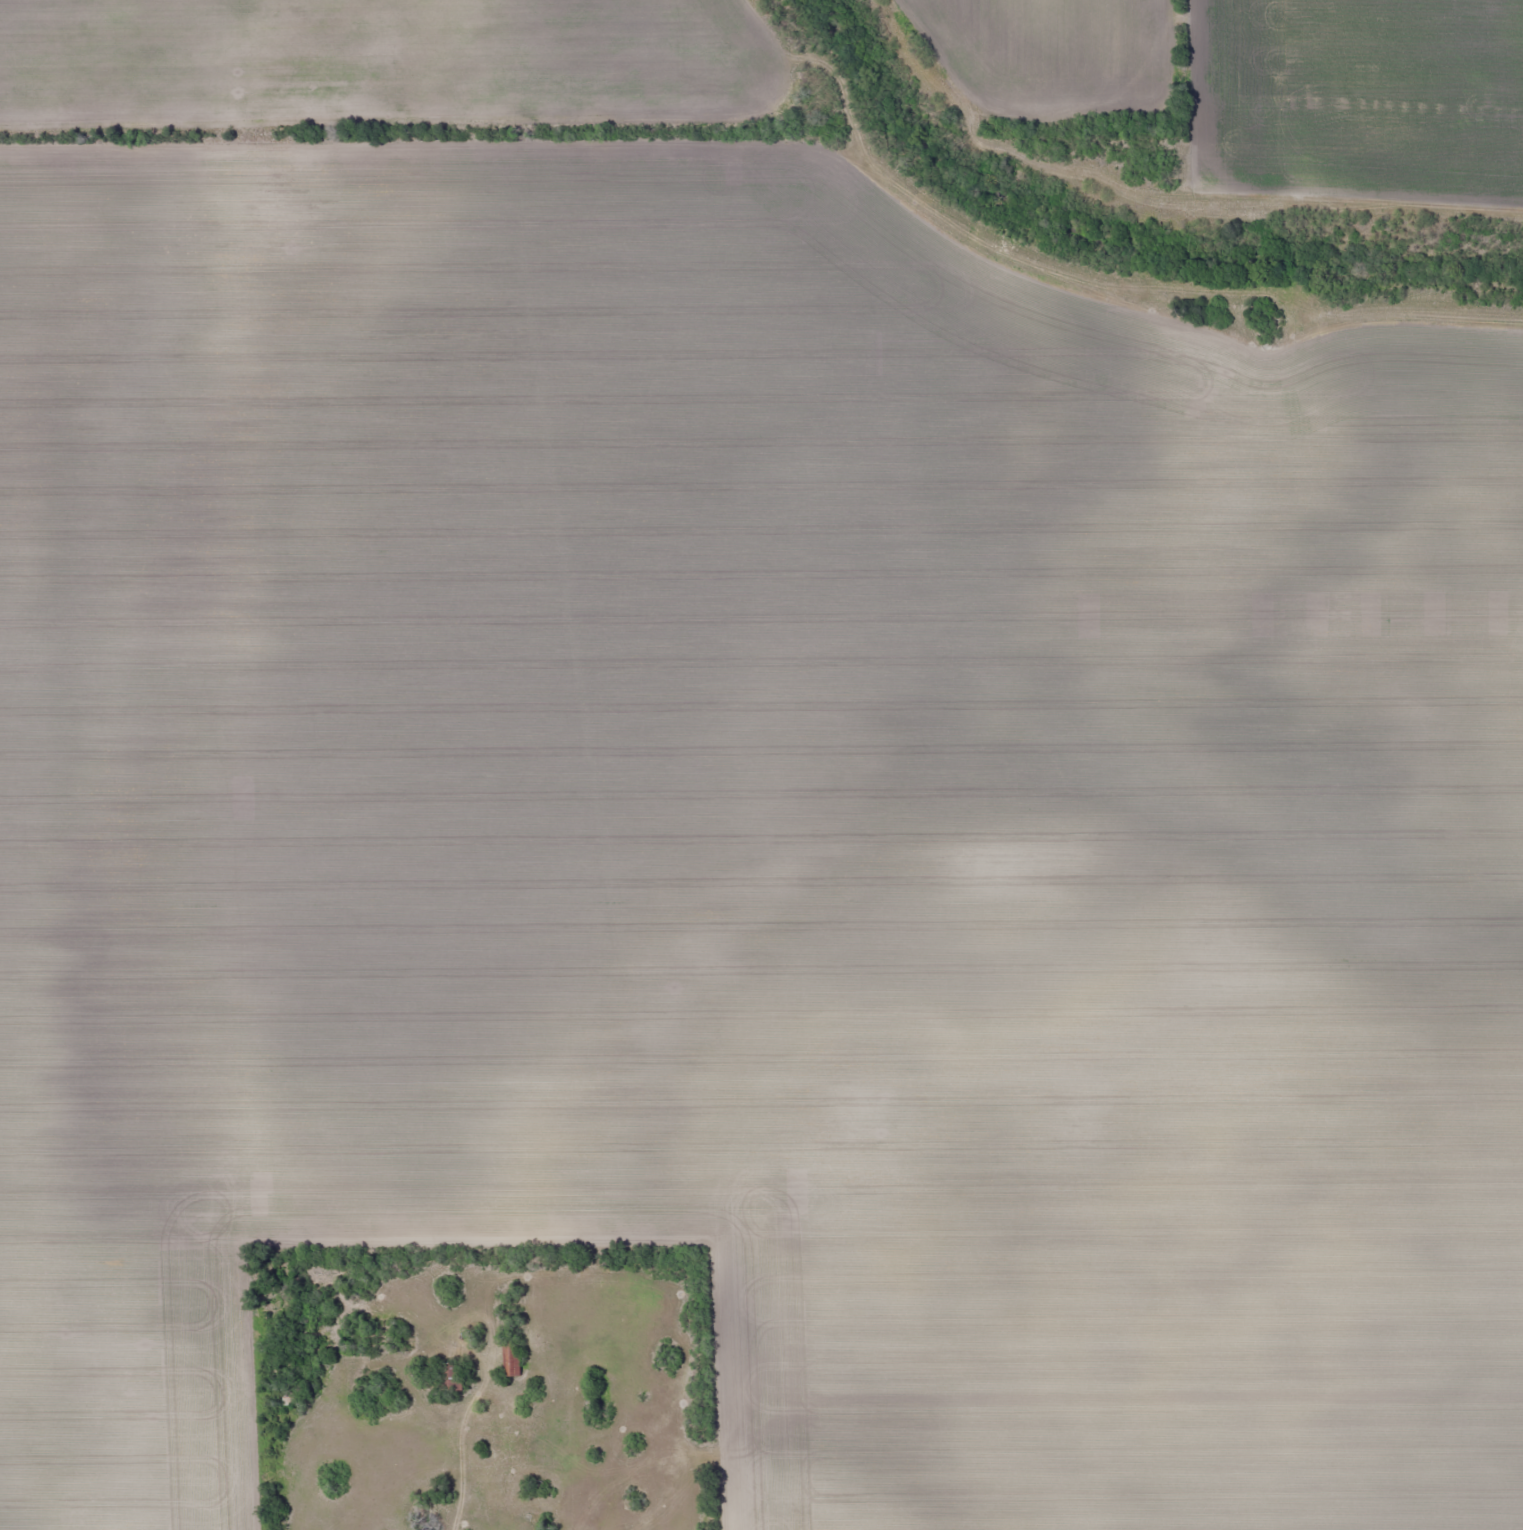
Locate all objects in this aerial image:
building: (510, 1362)
building: (448, 1376)

